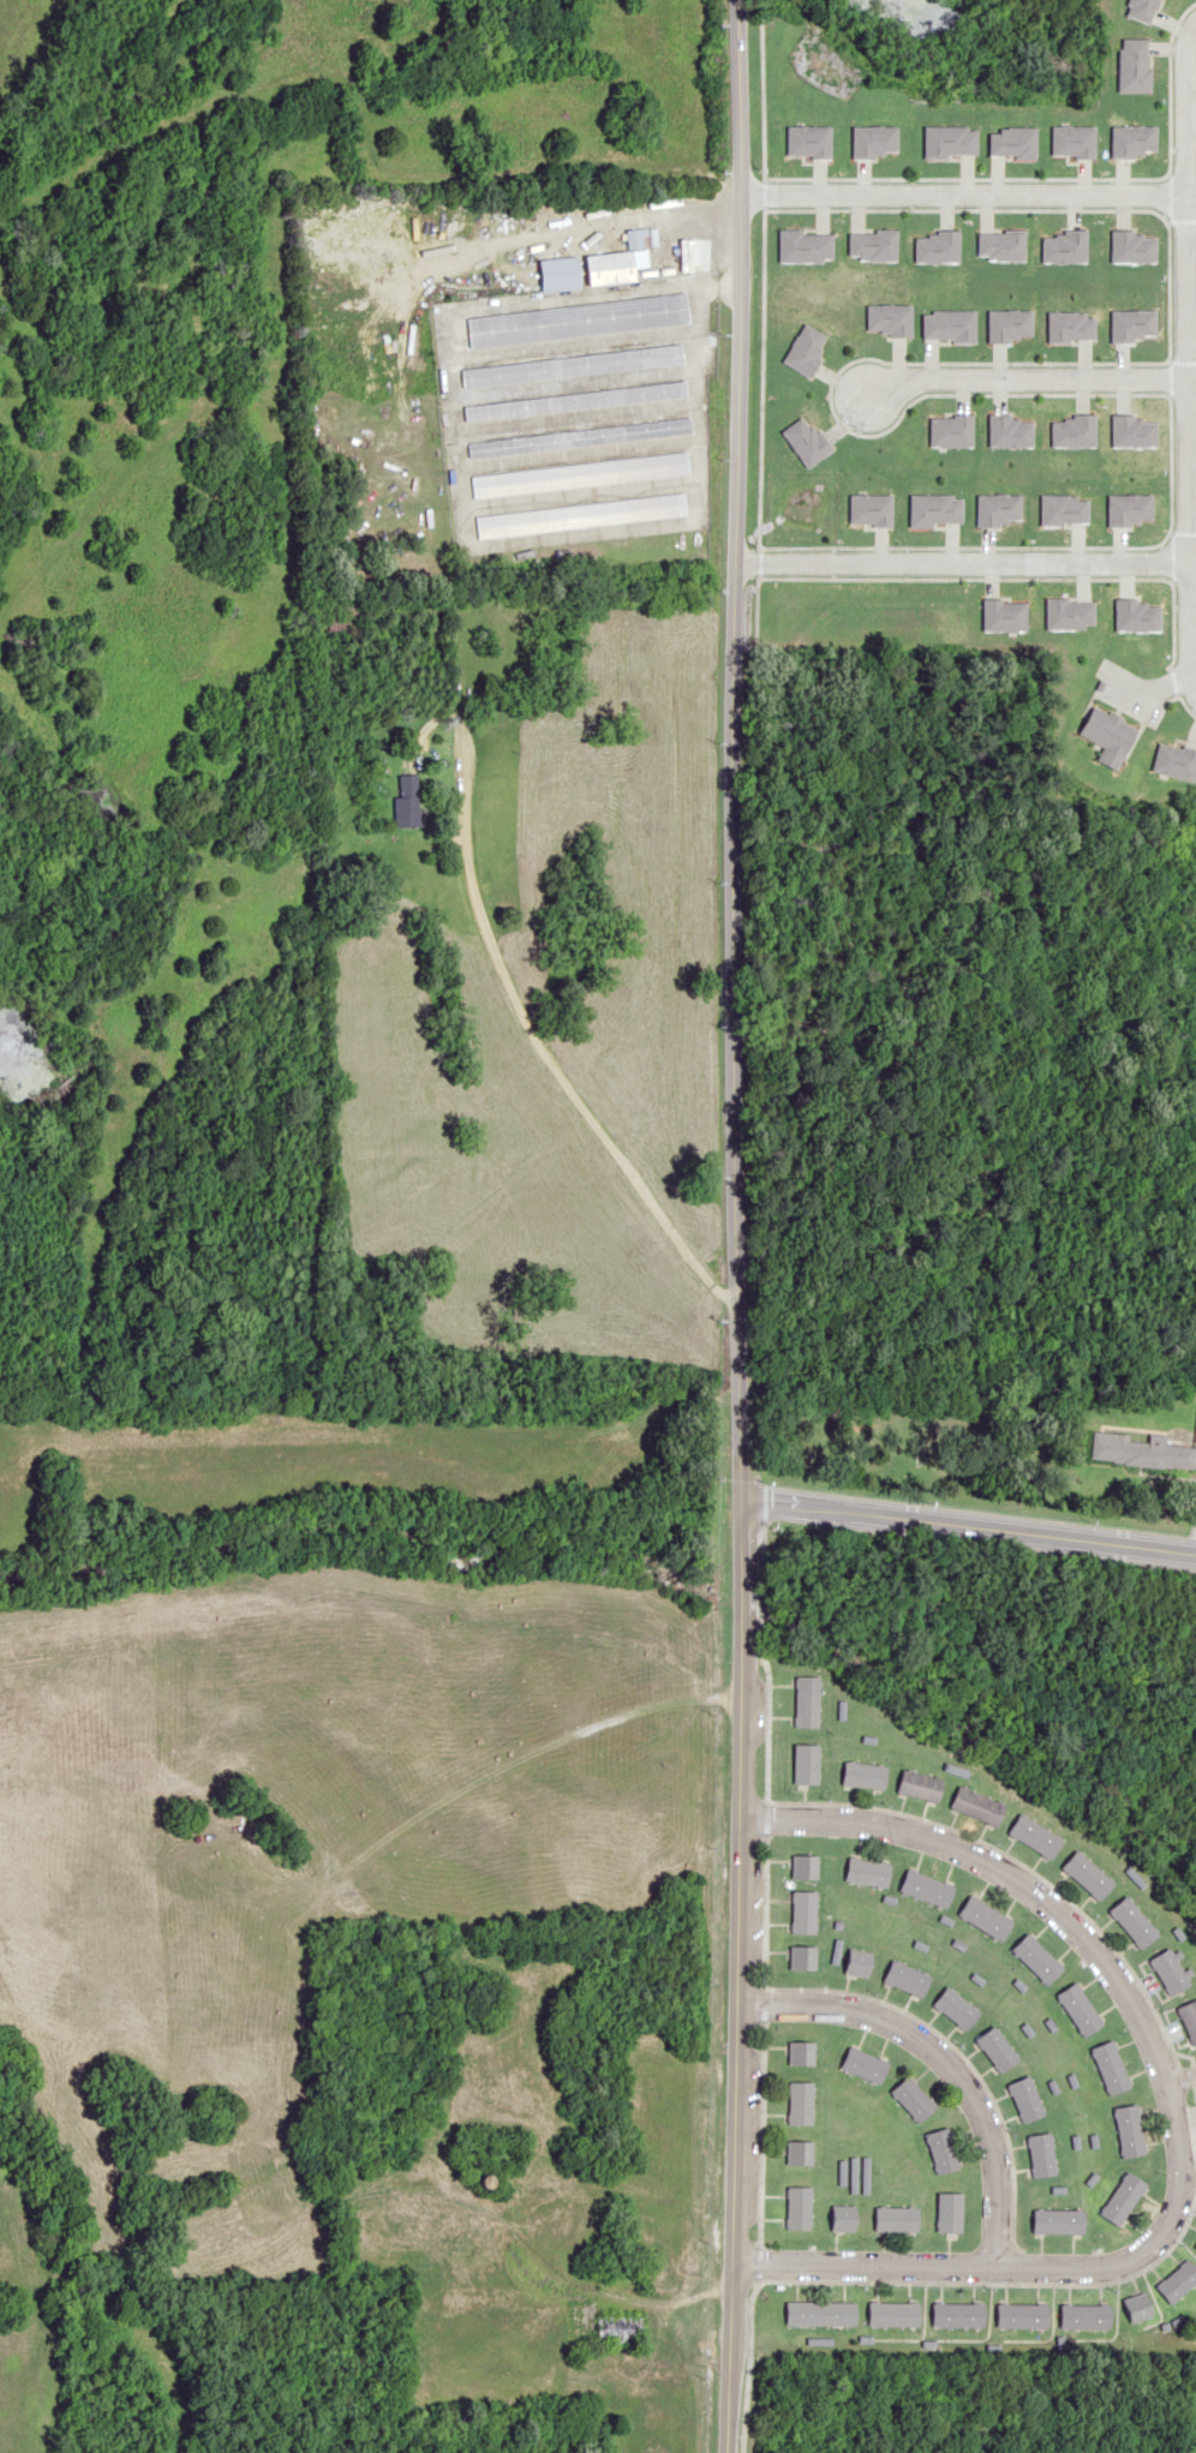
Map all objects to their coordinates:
building: (576, 319)
building: (572, 366)
building: (574, 400)
building: (578, 438)
building: (1131, 445)
building: (578, 474)
building: (579, 516)
building: (340, 617)
building: (407, 801)
road: (506, 989)
road: (729, 1226)
building: (1110, 1447)
road: (980, 1507)
road: (965, 1526)
building: (806, 1700)
building: (806, 1763)
building: (865, 1775)
building: (920, 1784)
building: (976, 1805)
building: (1034, 1836)
building: (805, 1866)
building: (868, 1871)
road: (1001, 1871)
building: (1087, 1874)
building: (926, 1887)
building: (805, 1910)
building: (986, 1917)
building: (1134, 1921)
building: (803, 1956)
building: (1036, 1957)
road: (764, 1967)
building: (1168, 1970)
building: (907, 1978)
building: (956, 2006)
building: (1078, 2009)
building: (1189, 2018)
building: (997, 2048)
building: (802, 2052)
road: (943, 2057)
building: (865, 2064)
building: (1110, 2066)
road: (1182, 2080)
building: (1025, 2098)
building: (913, 2099)
building: (801, 2101)
building: (1128, 2129)
building: (943, 2149)
building: (799, 2152)
building: (1041, 2154)
building: (1122, 2197)
building: (799, 2207)
building: (950, 2212)
building: (897, 2218)
building: (1058, 2220)
building: (845, 2221)
building: (1195, 2245)
road: (1029, 2268)
building: (1177, 2280)
building: (1136, 2305)
building: (819, 2313)
building: (893, 2314)
building: (958, 2314)
building: (1022, 2315)
building: (1084, 2316)
building: (617, 2328)

